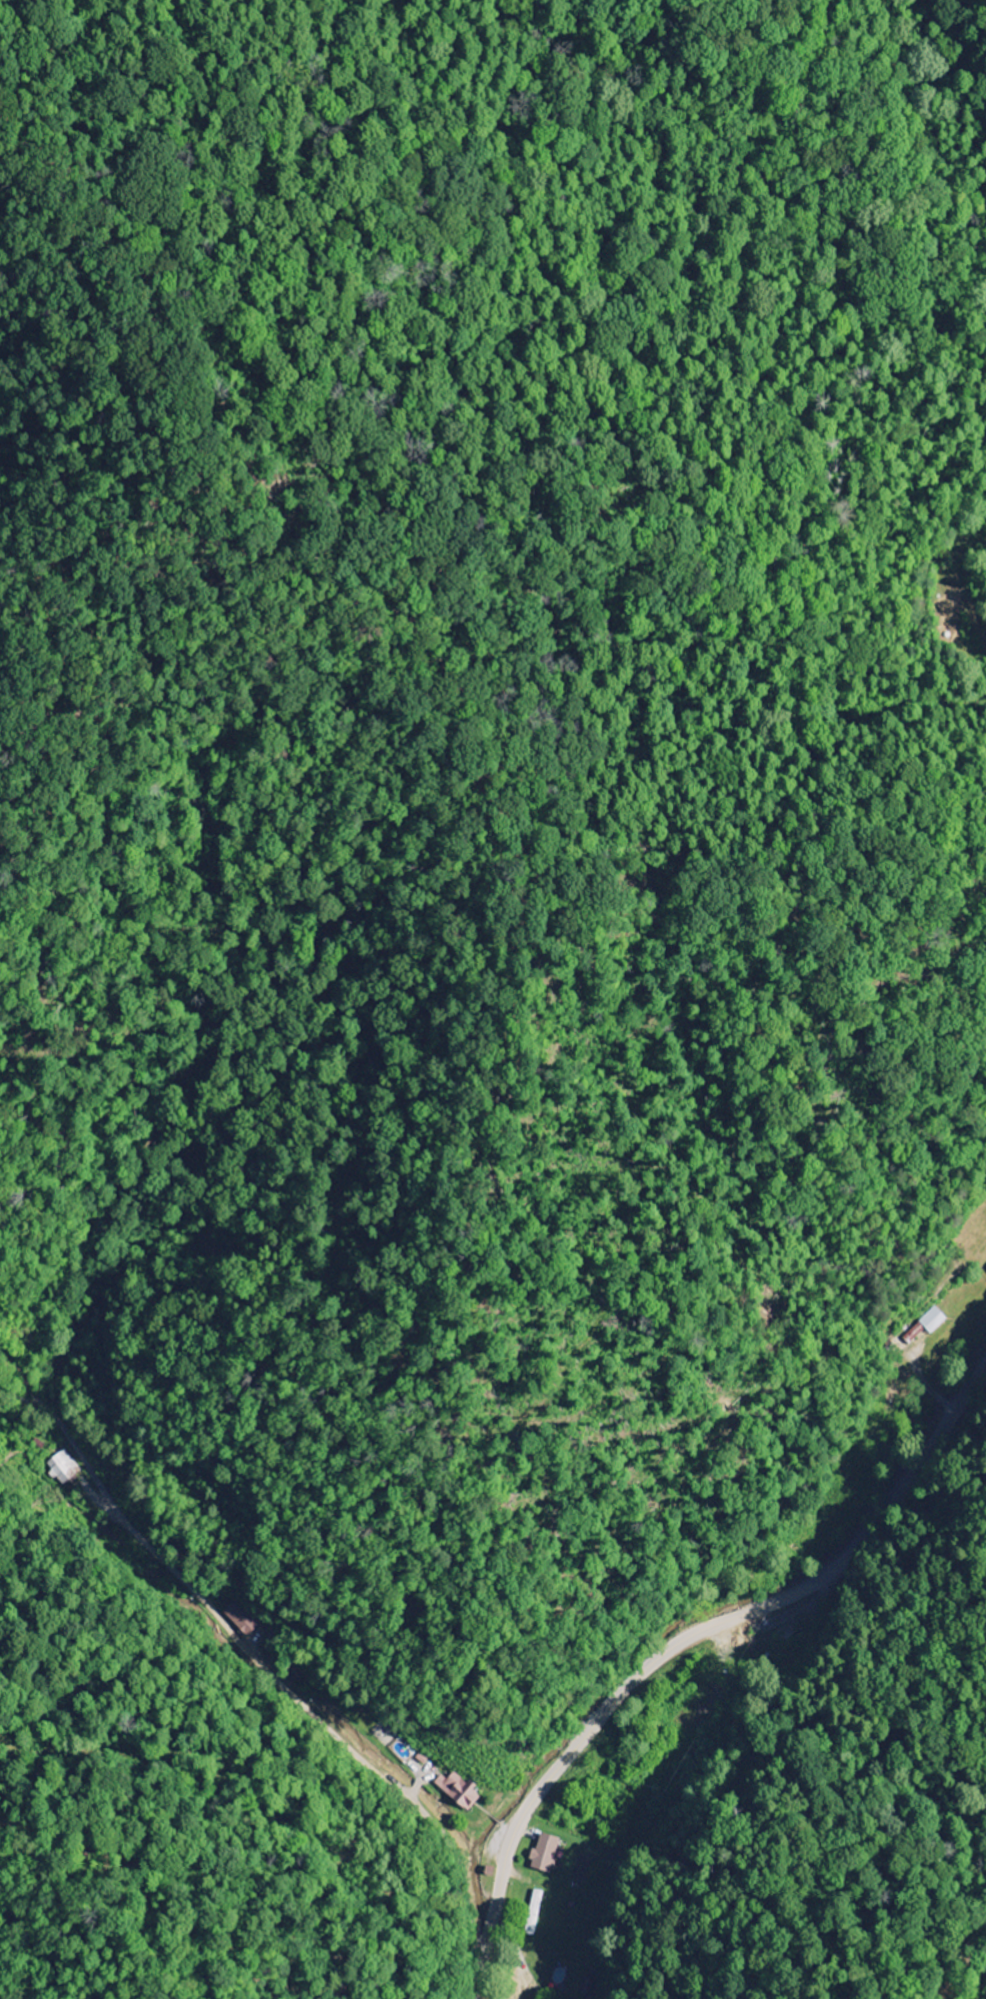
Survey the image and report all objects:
building: (925, 1325)
building: (62, 1467)
building: (239, 1619)
road: (680, 1644)
road: (273, 1655)
building: (458, 1791)
building: (544, 1853)
building: (534, 1911)
building: (587, 1986)

